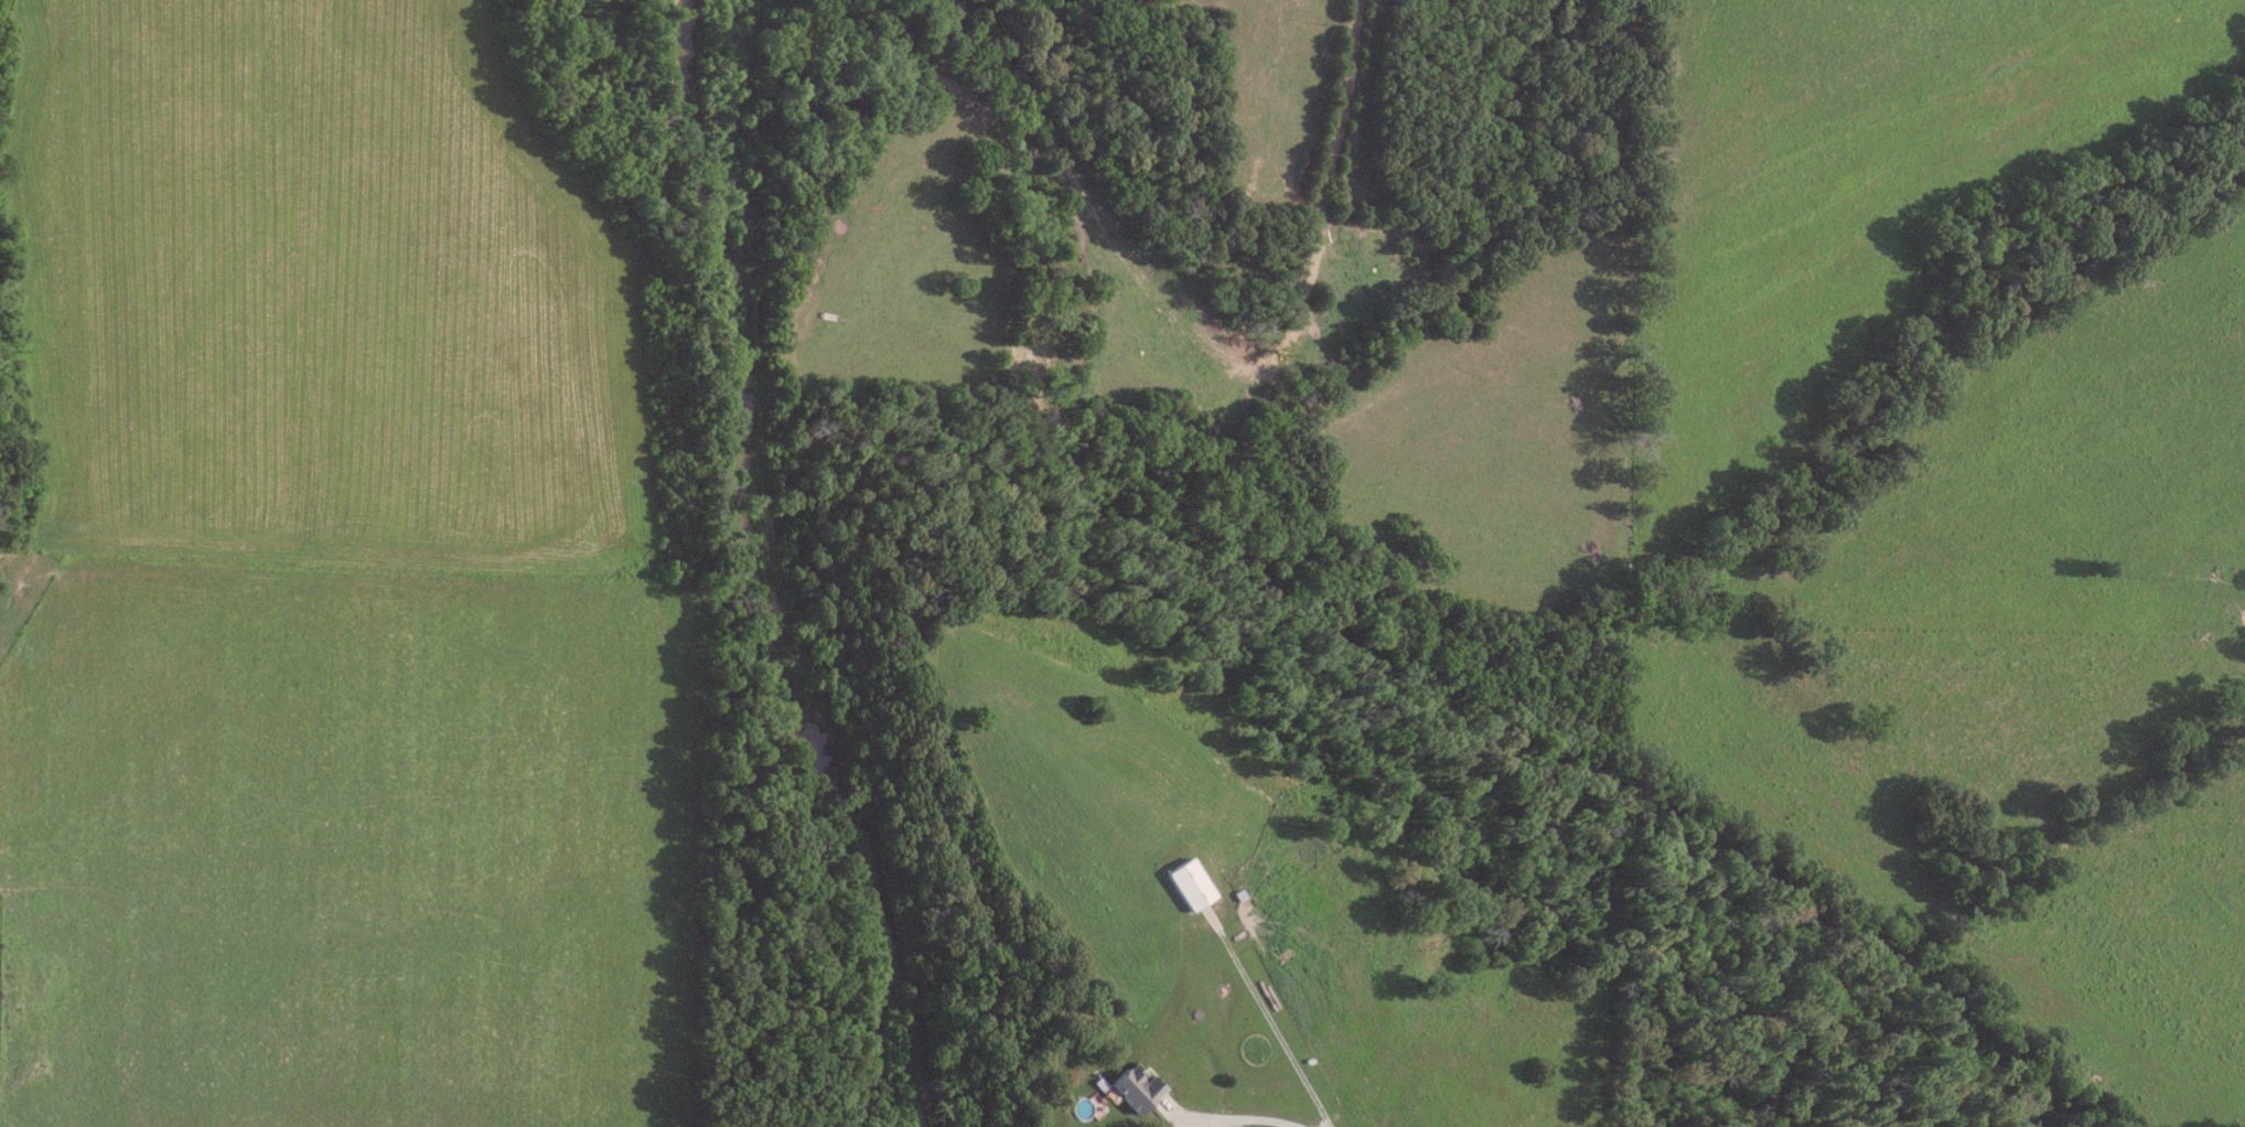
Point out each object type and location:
road: (1304, 173)
building: (1190, 884)
road: (1269, 1018)
building: (1131, 1088)
road: (1252, 1114)

